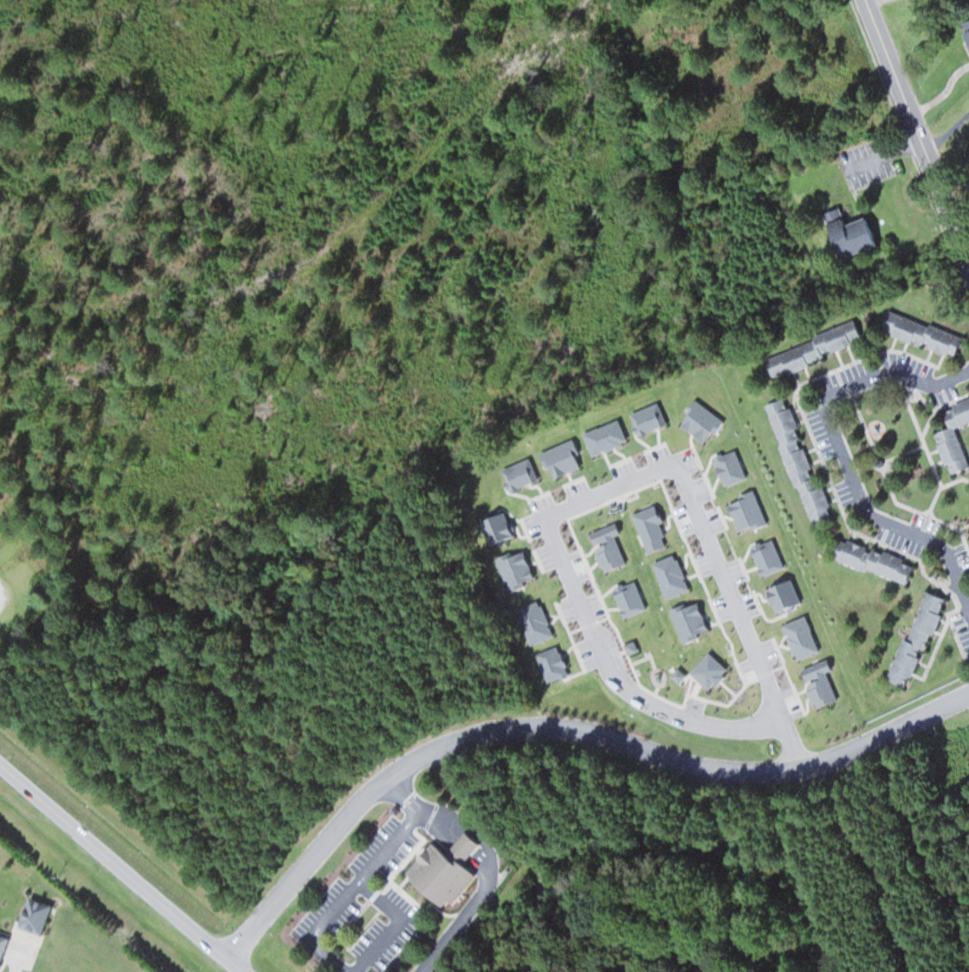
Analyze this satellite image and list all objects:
building: (965, 29)
road: (915, 134)
building: (846, 233)
building: (920, 334)
building: (812, 349)
building: (952, 435)
road: (842, 448)
building: (797, 461)
road: (611, 484)
building: (871, 560)
road: (741, 611)
building: (915, 639)
road: (618, 675)
road: (563, 725)
road: (403, 793)
road: (424, 810)
road: (123, 867)
building: (440, 869)
road: (393, 923)
building: (1, 941)

